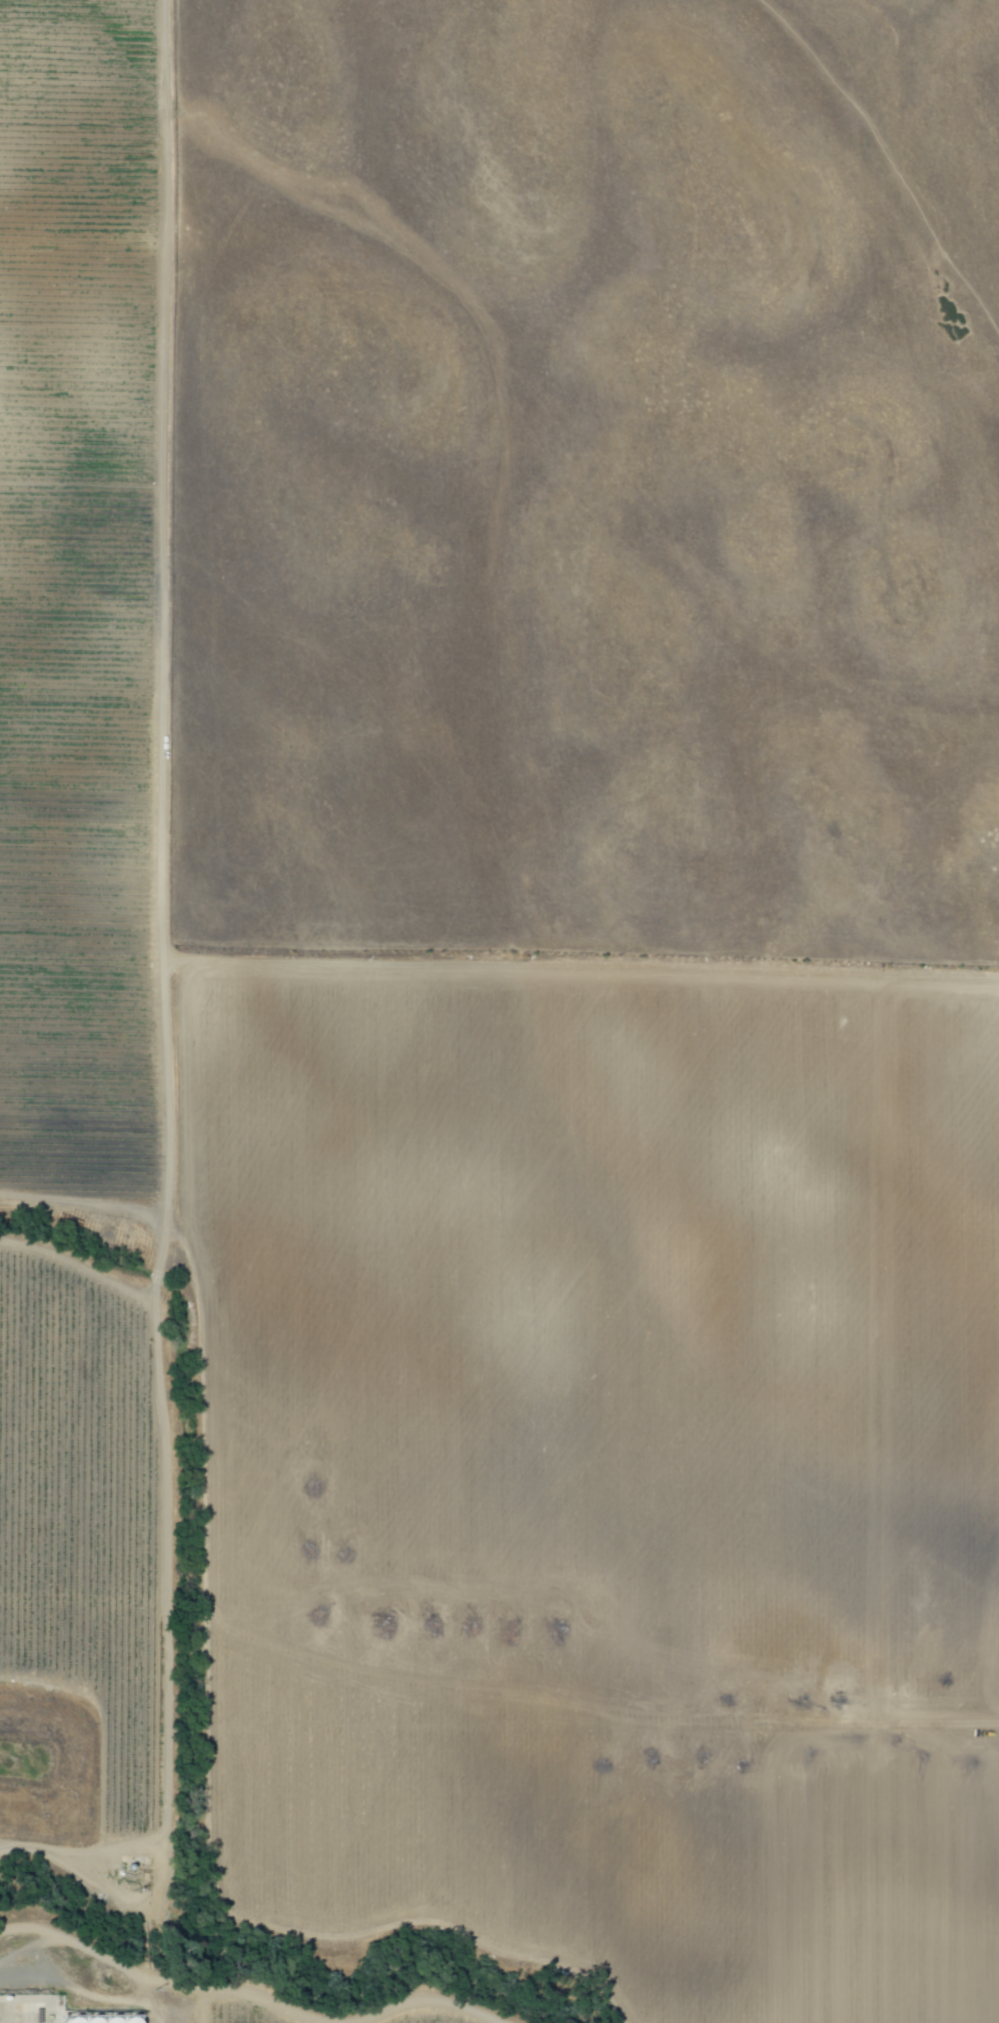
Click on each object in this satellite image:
road: (162, 1473)
road: (3, 1841)
road: (63, 1844)
road: (140, 1872)
road: (11, 1974)
road: (248, 1993)

